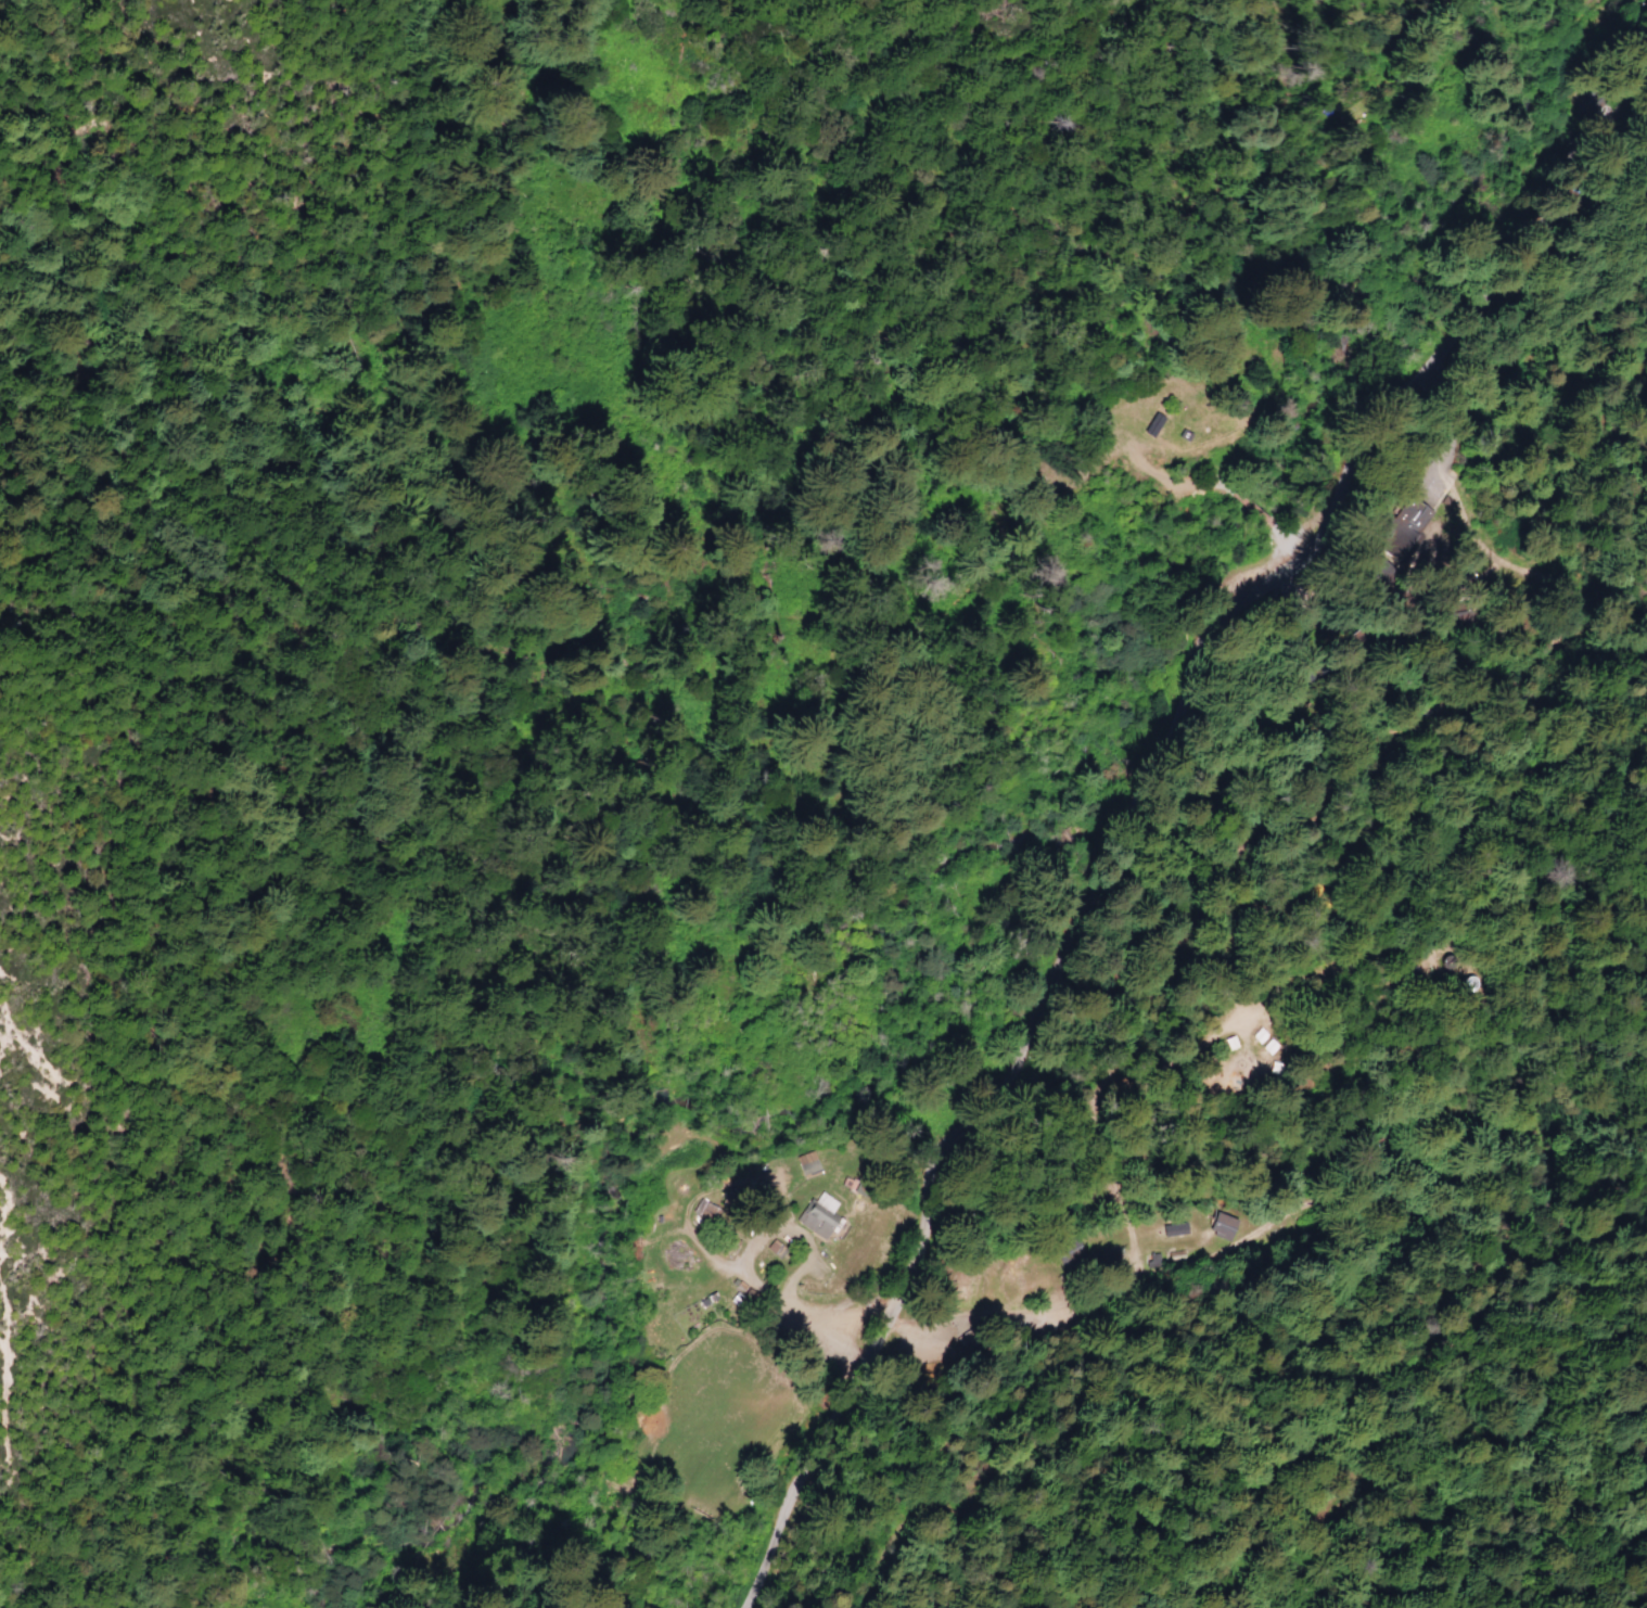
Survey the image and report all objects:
road: (1492, 286)
building: (1268, 1042)
road: (1018, 1044)
building: (1241, 1049)
building: (1279, 1051)
building: (805, 1162)
building: (816, 1170)
building: (827, 1223)
building: (1222, 1226)
building: (1109, 1259)

